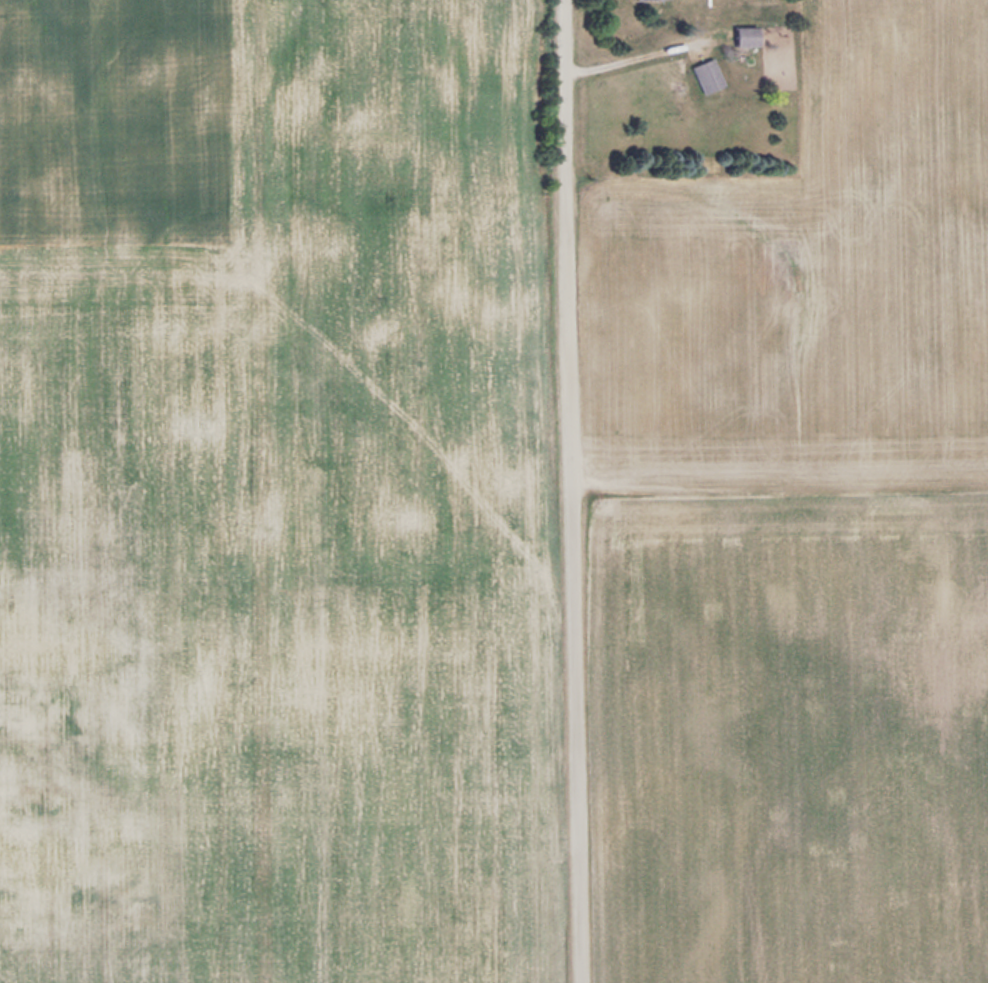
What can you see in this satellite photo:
building: (741, 34)
building: (701, 73)
road: (576, 491)

